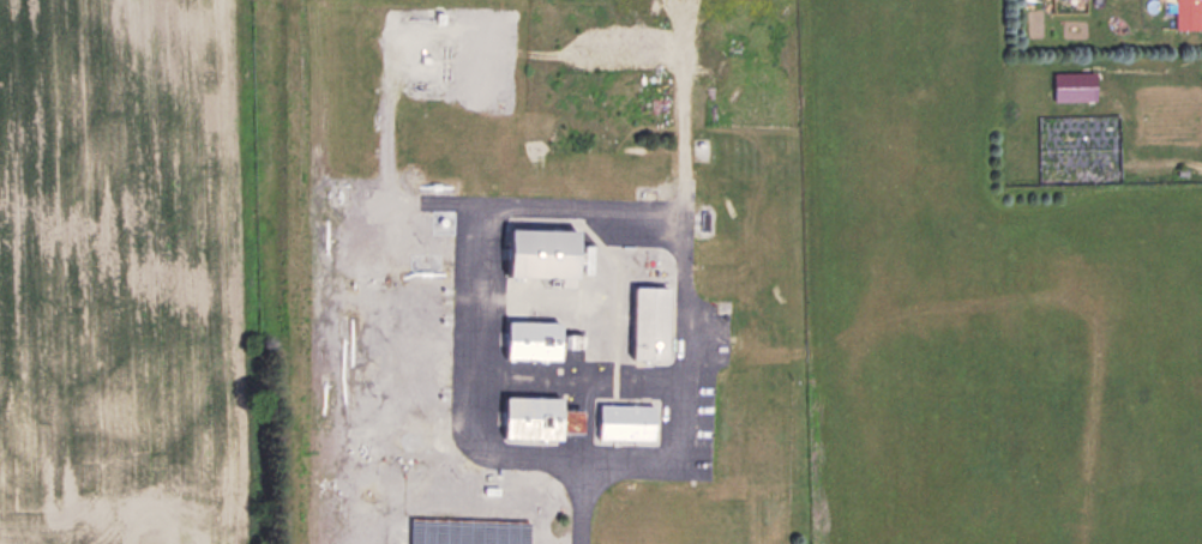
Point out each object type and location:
building: (1188, 13)
road: (566, 204)
building: (554, 253)
building: (654, 324)
building: (535, 338)
building: (541, 418)
building: (626, 421)
road: (582, 502)
building: (470, 530)

